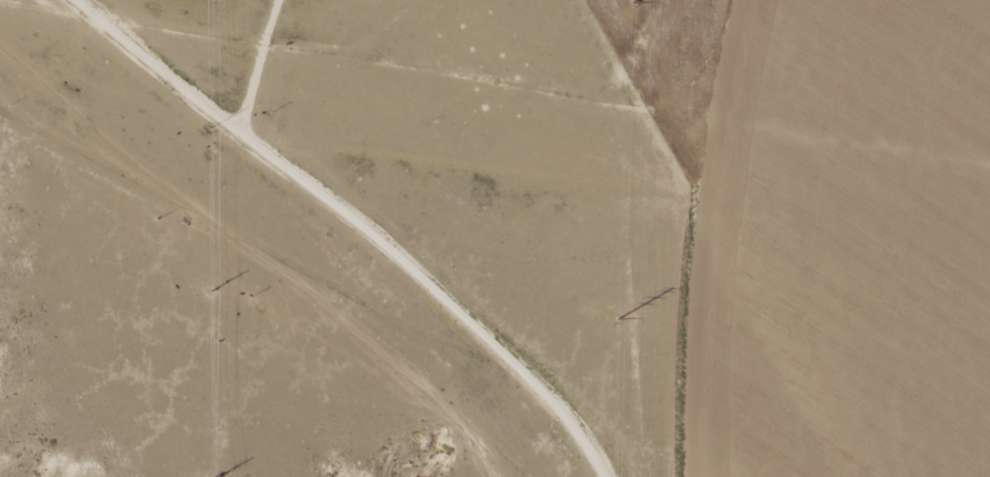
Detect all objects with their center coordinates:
power tower: (636, 2)
power tower: (210, 132)
power tower: (207, 296)
power tower: (619, 320)

